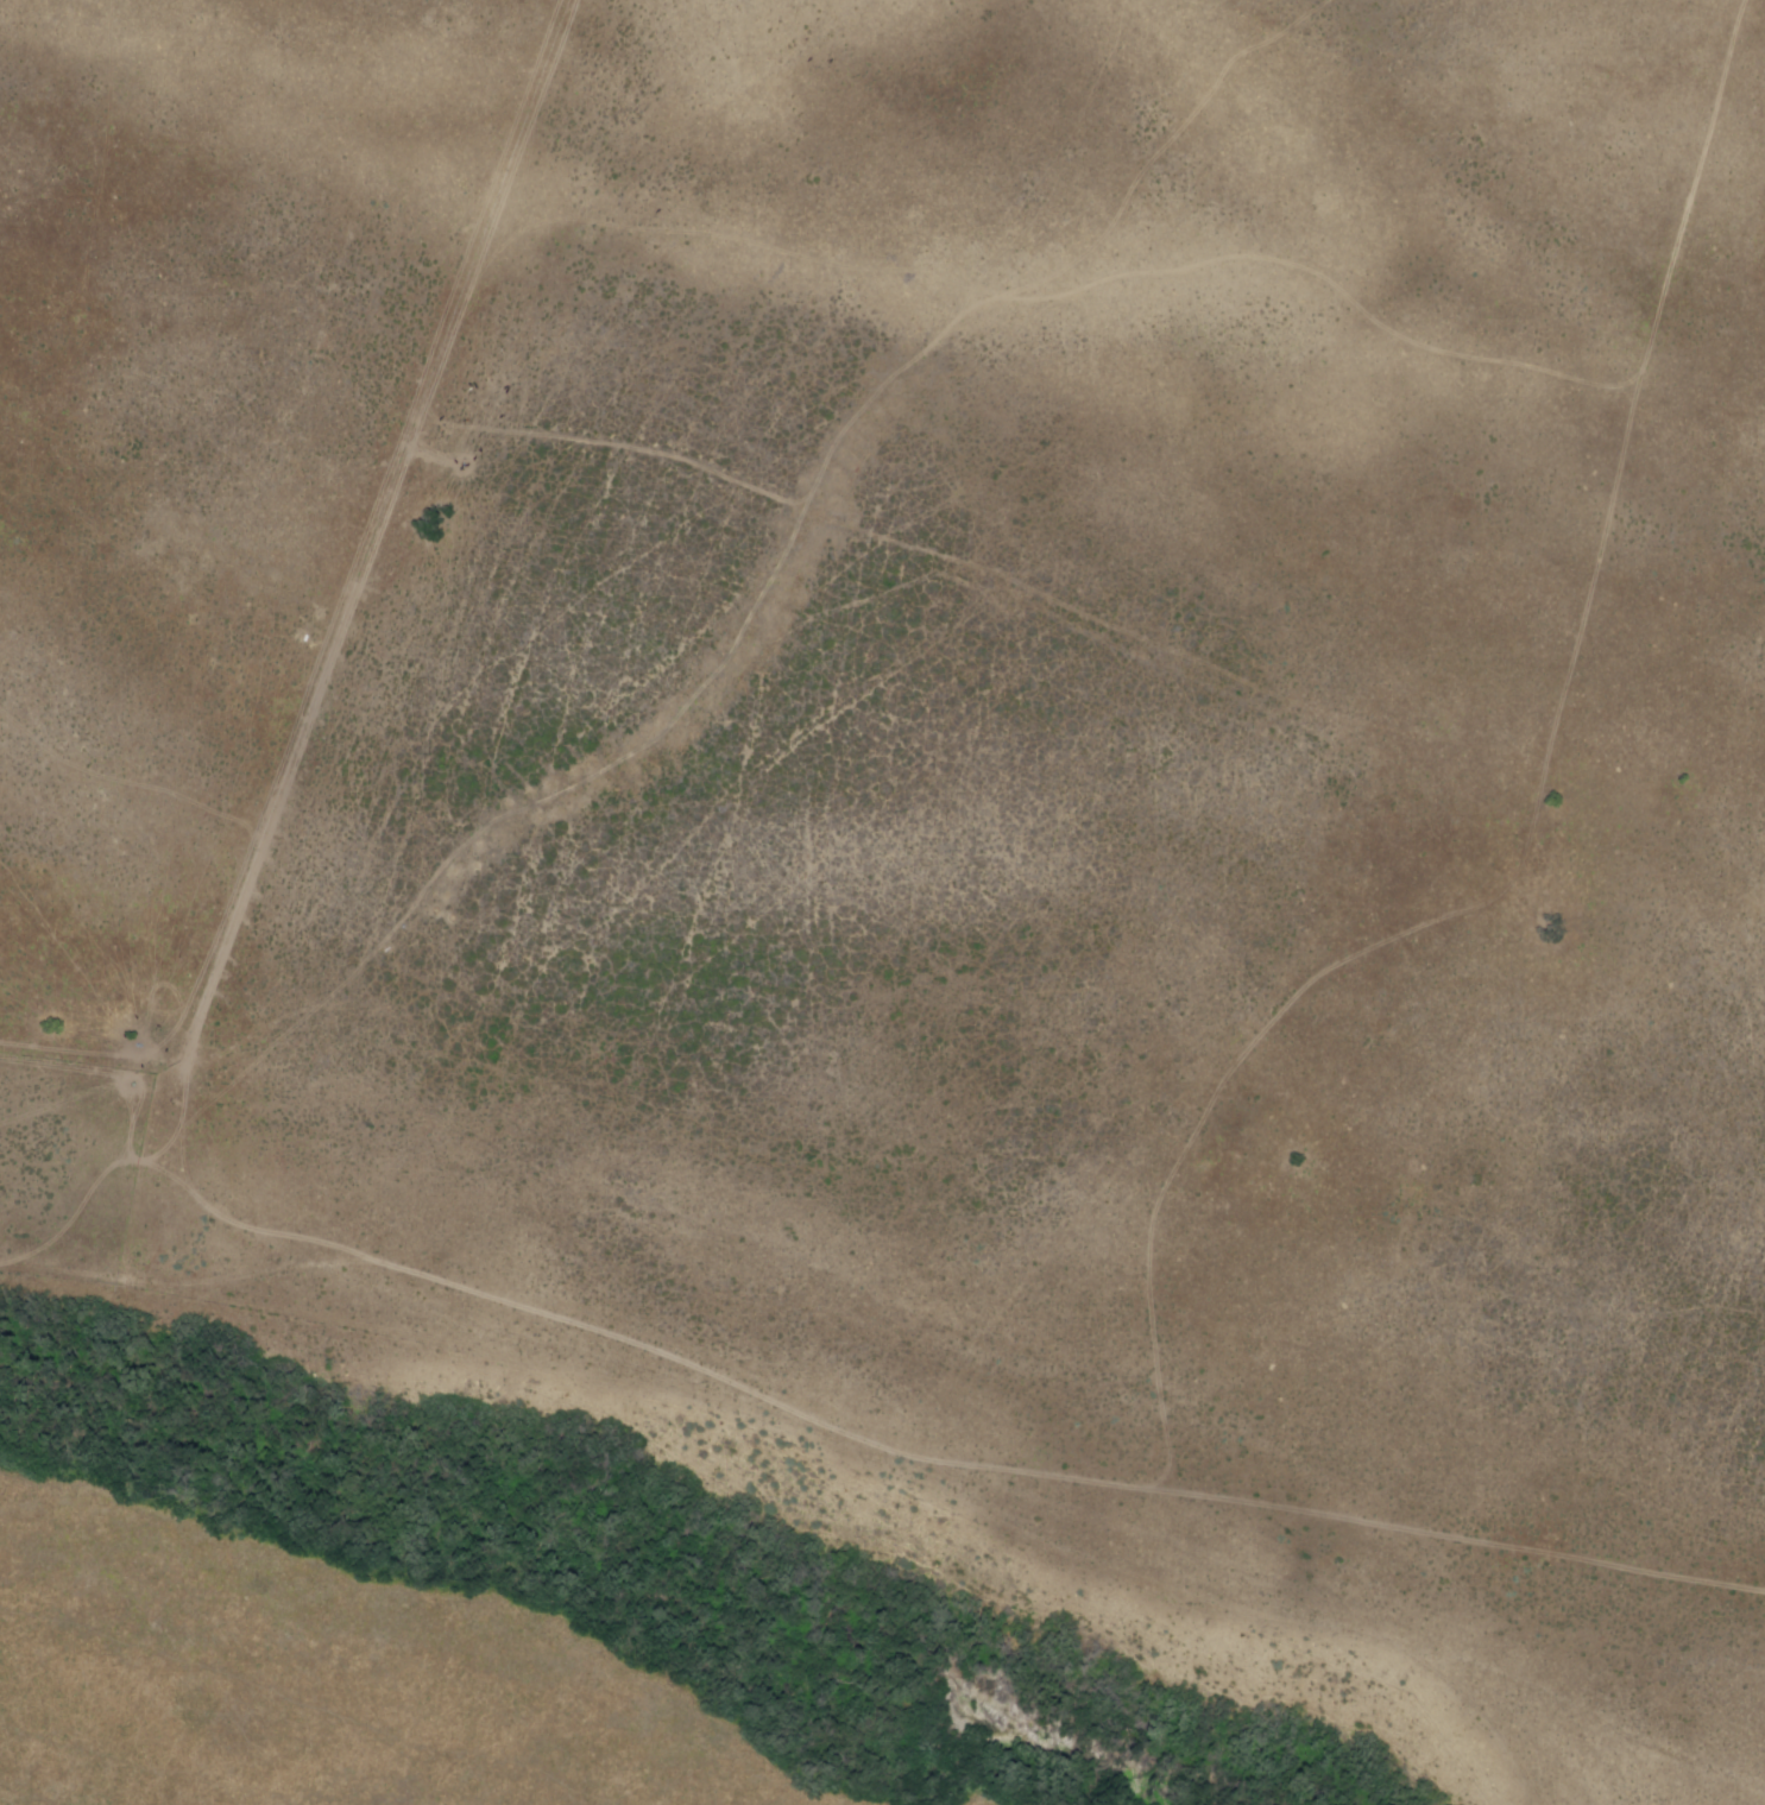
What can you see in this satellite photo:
road: (1467, 1541)

